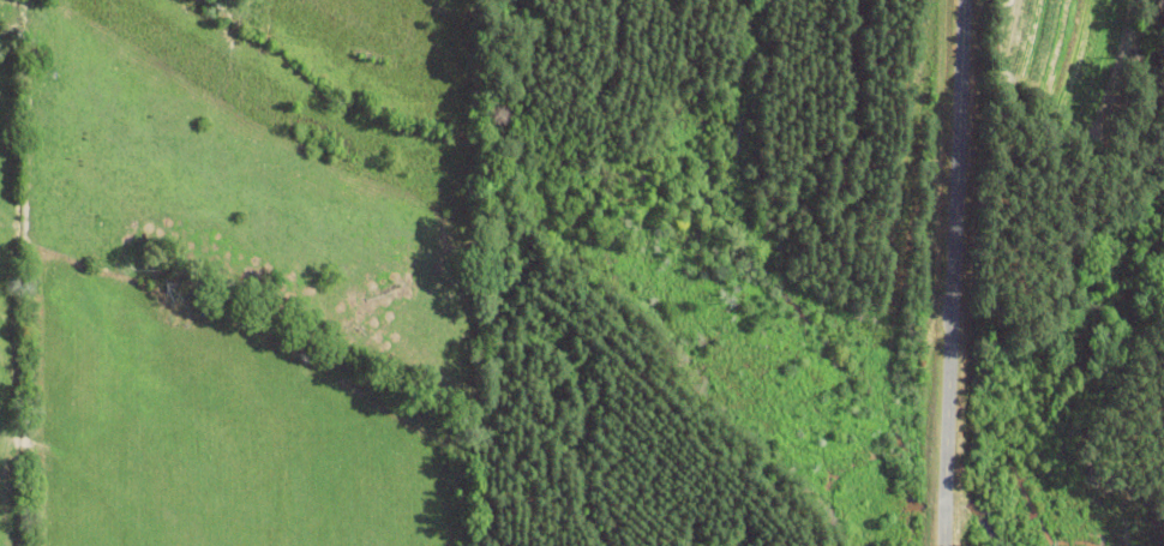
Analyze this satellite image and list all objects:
road: (955, 272)

